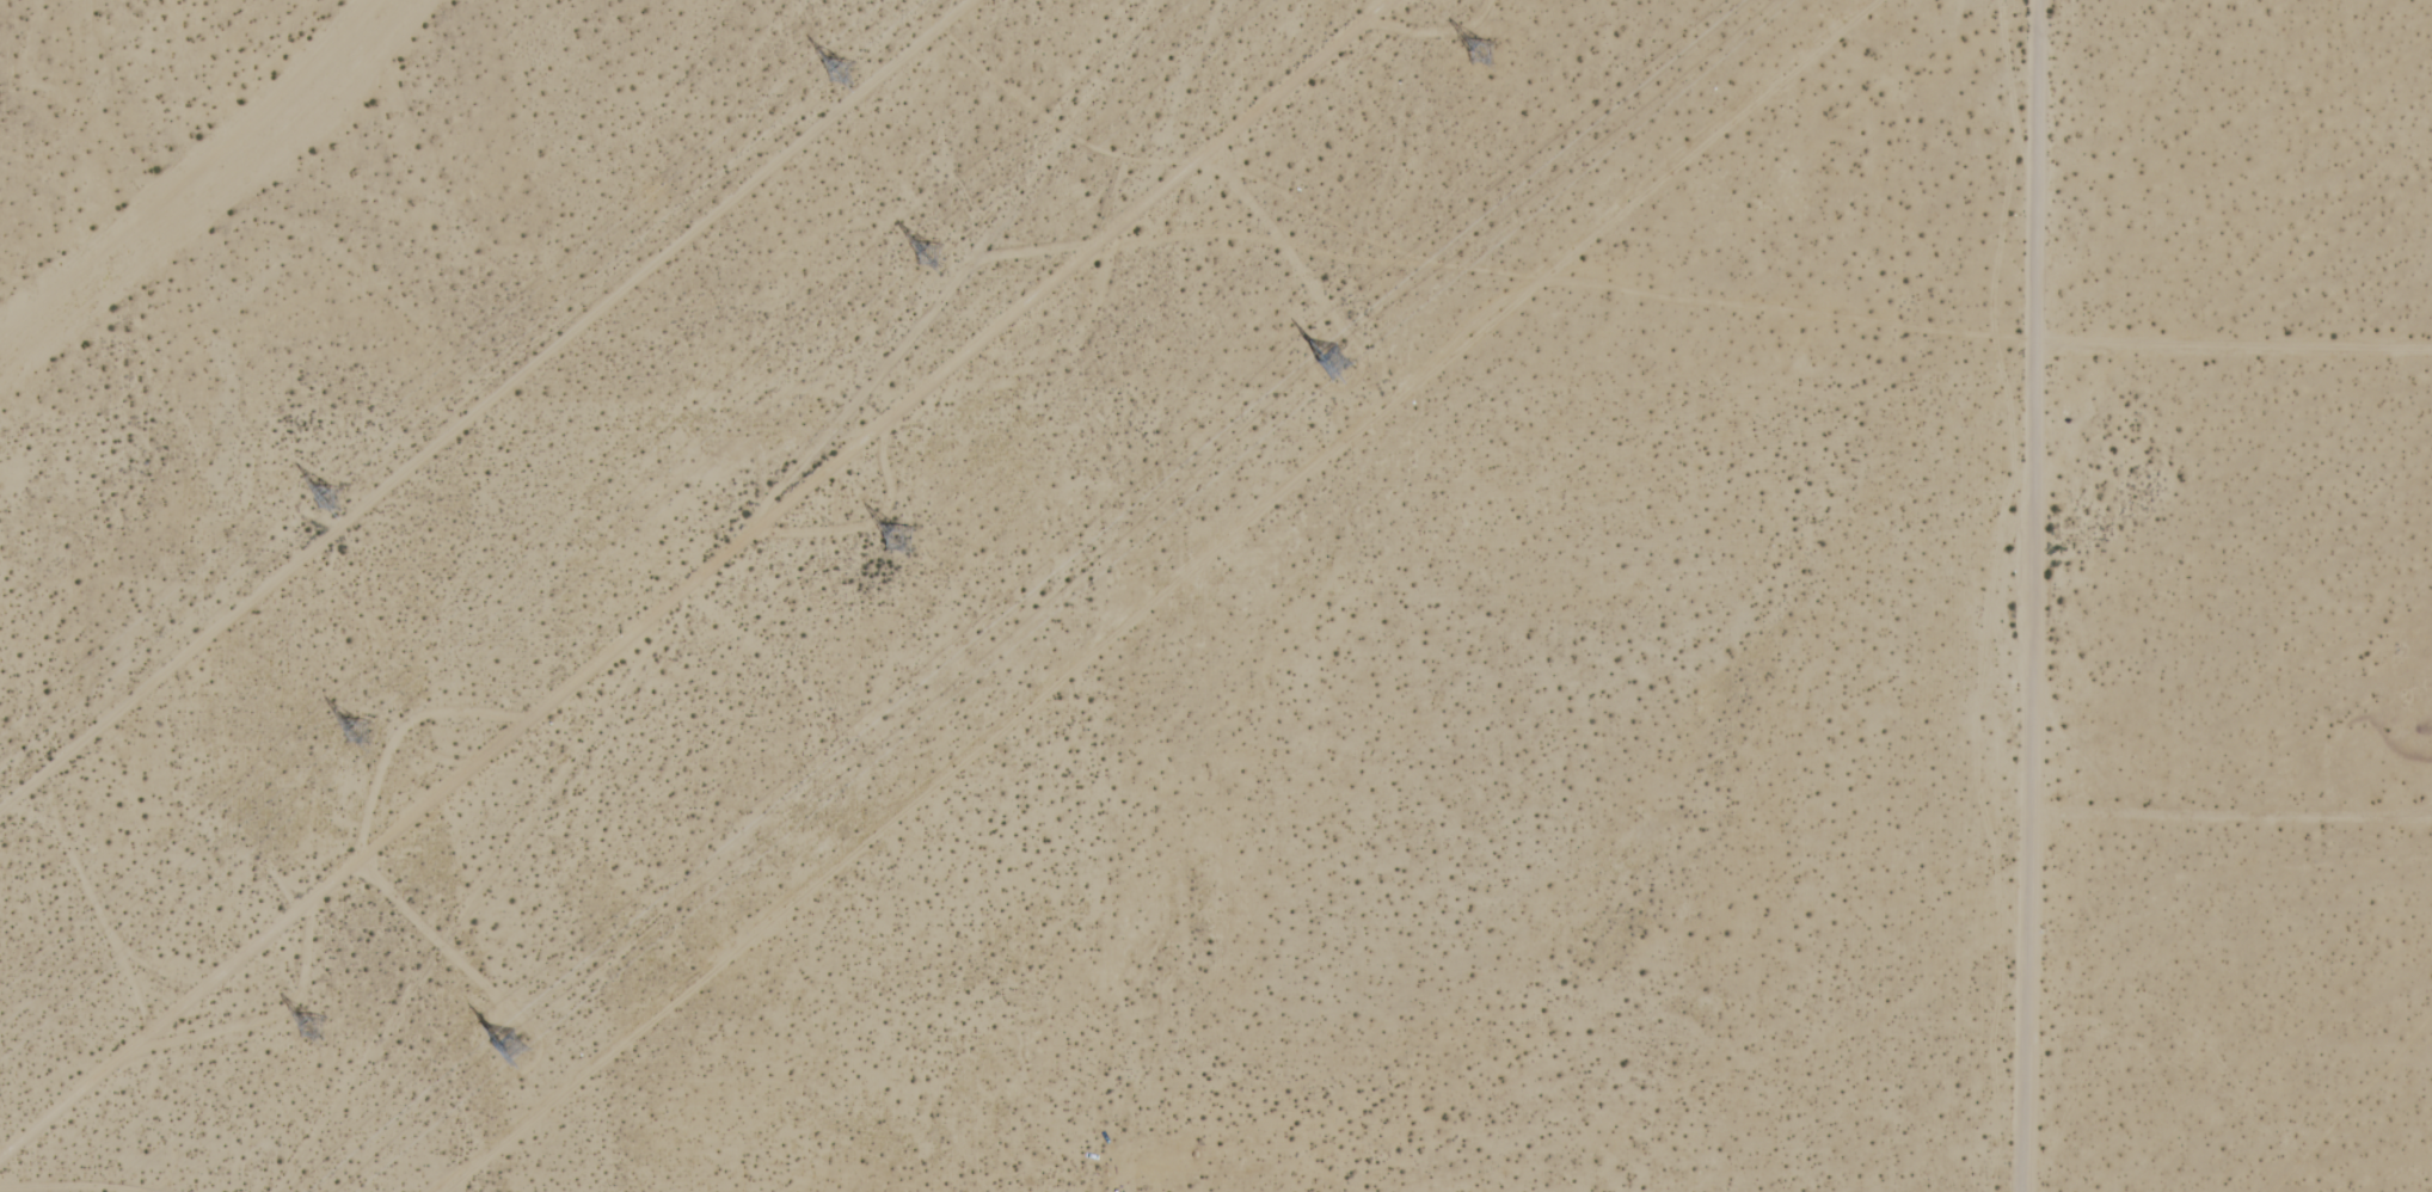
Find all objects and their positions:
power tower: (1484, 53)
power tower: (842, 69)
power tower: (938, 247)
road: (2236, 355)
power tower: (1335, 362)
power tower: (334, 498)
power tower: (901, 529)
road: (686, 580)
road: (2038, 596)
power tower: (354, 730)
power tower: (315, 1021)
power tower: (515, 1049)

